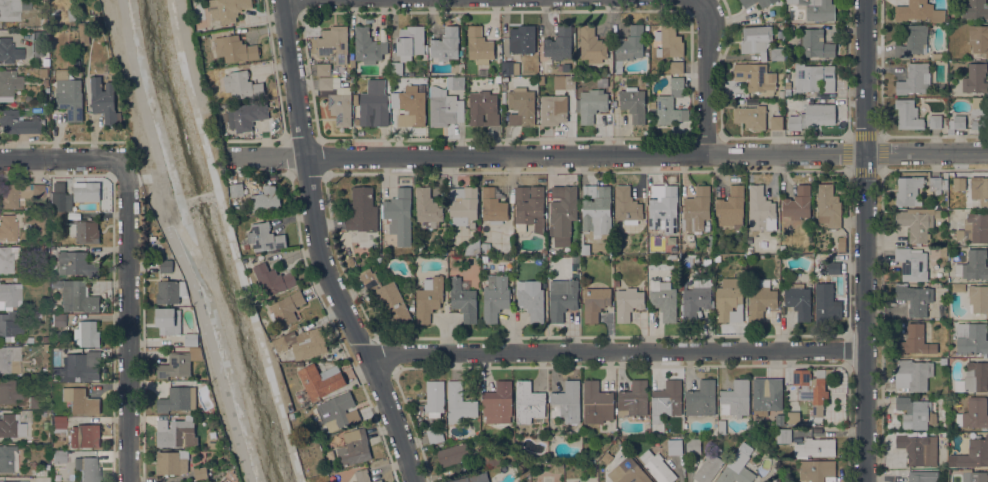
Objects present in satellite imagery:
road: (316, 0)
building: (743, 1)
building: (765, 2)
building: (817, 9)
building: (975, 9)
building: (9, 10)
building: (228, 10)
building: (919, 11)
building: (68, 14)
building: (44, 21)
building: (83, 34)
building: (522, 39)
building: (755, 39)
building: (978, 39)
building: (668, 41)
building: (912, 41)
building: (410, 42)
building: (38, 43)
building: (333, 44)
building: (559, 44)
building: (815, 44)
building: (446, 45)
building: (591, 45)
building: (368, 46)
building: (479, 46)
building: (629, 46)
building: (235, 49)
building: (9, 51)
building: (777, 54)
building: (936, 56)
building: (46, 62)
building: (352, 64)
building: (676, 67)
building: (396, 68)
building: (510, 68)
building: (566, 68)
building: (324, 69)
building: (207, 71)
building: (42, 72)
building: (481, 72)
building: (755, 77)
road: (709, 78)
building: (814, 78)
road: (865, 78)
building: (541, 79)
building: (498, 80)
building: (505, 80)
building: (914, 80)
building: (975, 80)
building: (621, 81)
building: (45, 82)
building: (564, 82)
building: (455, 83)
building: (8, 84)
building: (238, 84)
building: (787, 85)
building: (787, 92)
building: (69, 95)
building: (104, 99)
building: (337, 100)
building: (633, 103)
building: (670, 103)
building: (413, 104)
building: (522, 104)
building: (592, 105)
building: (444, 107)
building: (483, 108)
building: (372, 109)
building: (553, 110)
building: (979, 113)
building: (908, 115)
building: (246, 116)
building: (751, 117)
building: (813, 117)
building: (776, 122)
building: (935, 122)
building: (18, 123)
building: (957, 124)
road: (926, 156)
road: (547, 157)
road: (64, 161)
building: (958, 184)
building: (937, 185)
building: (237, 190)
building: (979, 190)
building: (909, 191)
building: (87, 192)
building: (18, 194)
building: (60, 198)
building: (266, 199)
building: (463, 204)
building: (797, 204)
building: (493, 206)
building: (627, 206)
building: (828, 206)
building: (427, 208)
building: (529, 208)
building: (237, 209)
building: (731, 209)
building: (362, 210)
building: (696, 210)
building: (760, 210)
building: (664, 211)
building: (596, 213)
building: (564, 215)
building: (399, 216)
building: (59, 218)
building: (917, 223)
building: (27, 226)
building: (8, 228)
building: (974, 229)
building: (85, 230)
building: (265, 238)
road: (175, 243)
building: (710, 244)
road: (324, 248)
building: (472, 248)
building: (485, 248)
building: (663, 248)
building: (41, 249)
building: (53, 249)
building: (585, 249)
building: (782, 249)
building: (838, 249)
building: (158, 250)
building: (942, 251)
building: (450, 252)
building: (543, 252)
building: (672, 256)
building: (7, 259)
building: (484, 259)
building: (575, 259)
building: (350, 263)
building: (75, 264)
building: (912, 264)
building: (819, 265)
building: (166, 266)
building: (973, 266)
building: (833, 267)
building: (273, 280)
building: (616, 283)
building: (57, 284)
building: (958, 287)
building: (172, 291)
building: (9, 295)
building: (385, 296)
building: (80, 297)
building: (495, 297)
building: (429, 298)
building: (463, 299)
building: (663, 299)
building: (915, 299)
building: (978, 299)
building: (531, 300)
building: (563, 300)
building: (762, 300)
building: (799, 300)
building: (695, 302)
building: (727, 302)
building: (595, 303)
building: (628, 303)
building: (827, 303)
building: (287, 309)
road: (865, 319)
building: (58, 320)
road: (128, 321)
building: (168, 321)
building: (10, 325)
building: (86, 334)
building: (971, 338)
building: (45, 339)
building: (191, 339)
building: (29, 340)
building: (914, 341)
building: (302, 343)
building: (46, 348)
road: (616, 350)
building: (196, 351)
building: (280, 356)
building: (10, 359)
building: (943, 362)
building: (298, 363)
building: (175, 365)
building: (80, 367)
building: (912, 374)
building: (973, 378)
building: (321, 380)
building: (21, 382)
building: (9, 392)
building: (812, 394)
building: (766, 395)
building: (434, 398)
building: (634, 398)
building: (177, 399)
building: (701, 399)
building: (735, 399)
building: (80, 401)
building: (666, 401)
building: (32, 402)
building: (528, 402)
building: (566, 402)
building: (498, 403)
building: (596, 403)
building: (459, 404)
building: (336, 410)
building: (915, 412)
building: (43, 413)
building: (974, 413)
building: (793, 417)
building: (779, 420)
building: (59, 422)
building: (10, 426)
building: (721, 428)
building: (176, 433)
building: (434, 435)
building: (783, 435)
building: (84, 436)
building: (211, 445)
building: (693, 446)
building: (674, 447)
building: (815, 447)
building: (354, 448)
building: (919, 449)
building: (71, 454)
building: (974, 454)
building: (453, 455)
building: (58, 456)
building: (8, 458)
building: (491, 458)
building: (171, 463)
building: (737, 466)
building: (658, 468)
building: (707, 468)
building: (87, 469)
building: (816, 470)
building: (40, 472)
building: (627, 472)
building: (200, 473)
building: (362, 475)
building: (923, 476)
building: (974, 476)
building: (474, 478)
building: (16, 481)
building: (377, 481)

